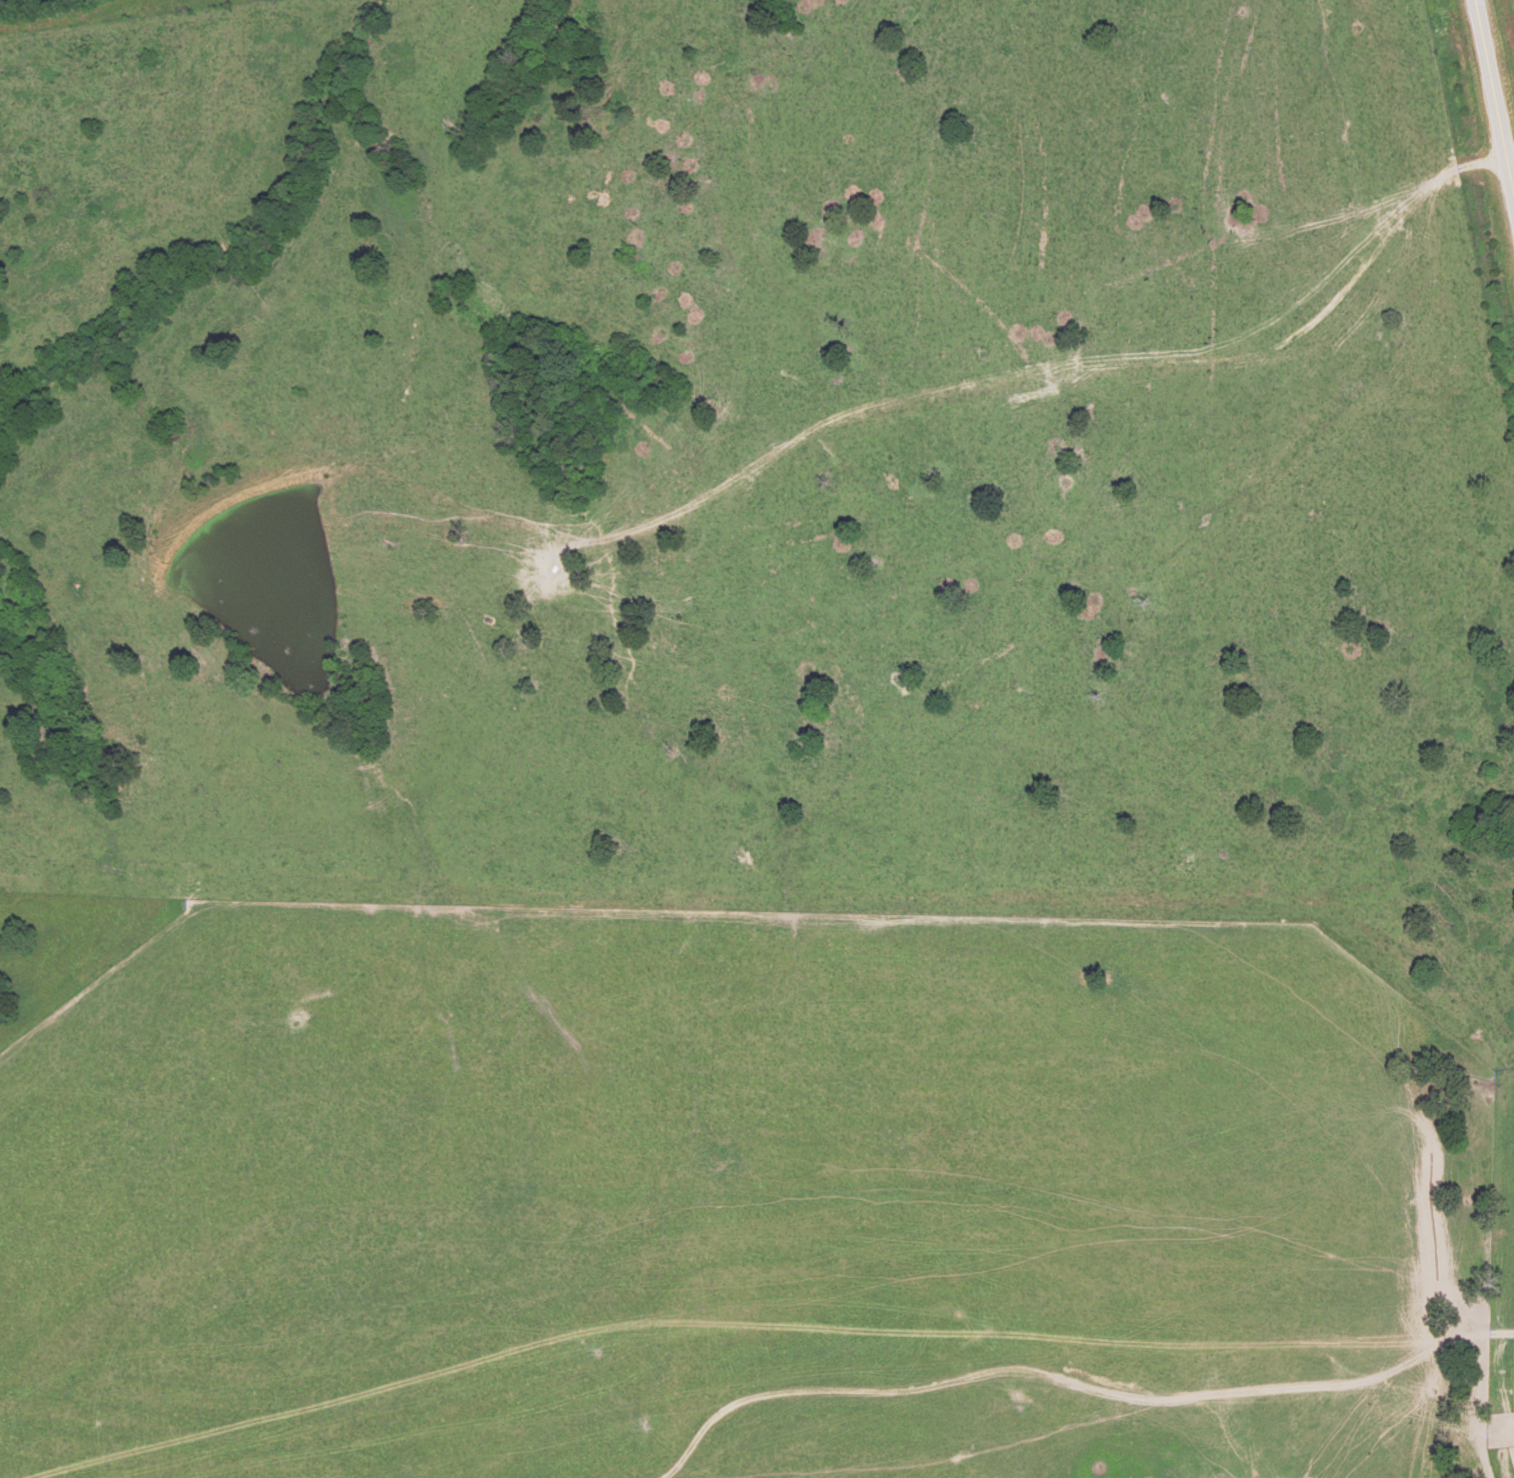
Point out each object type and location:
road: (1488, 123)

